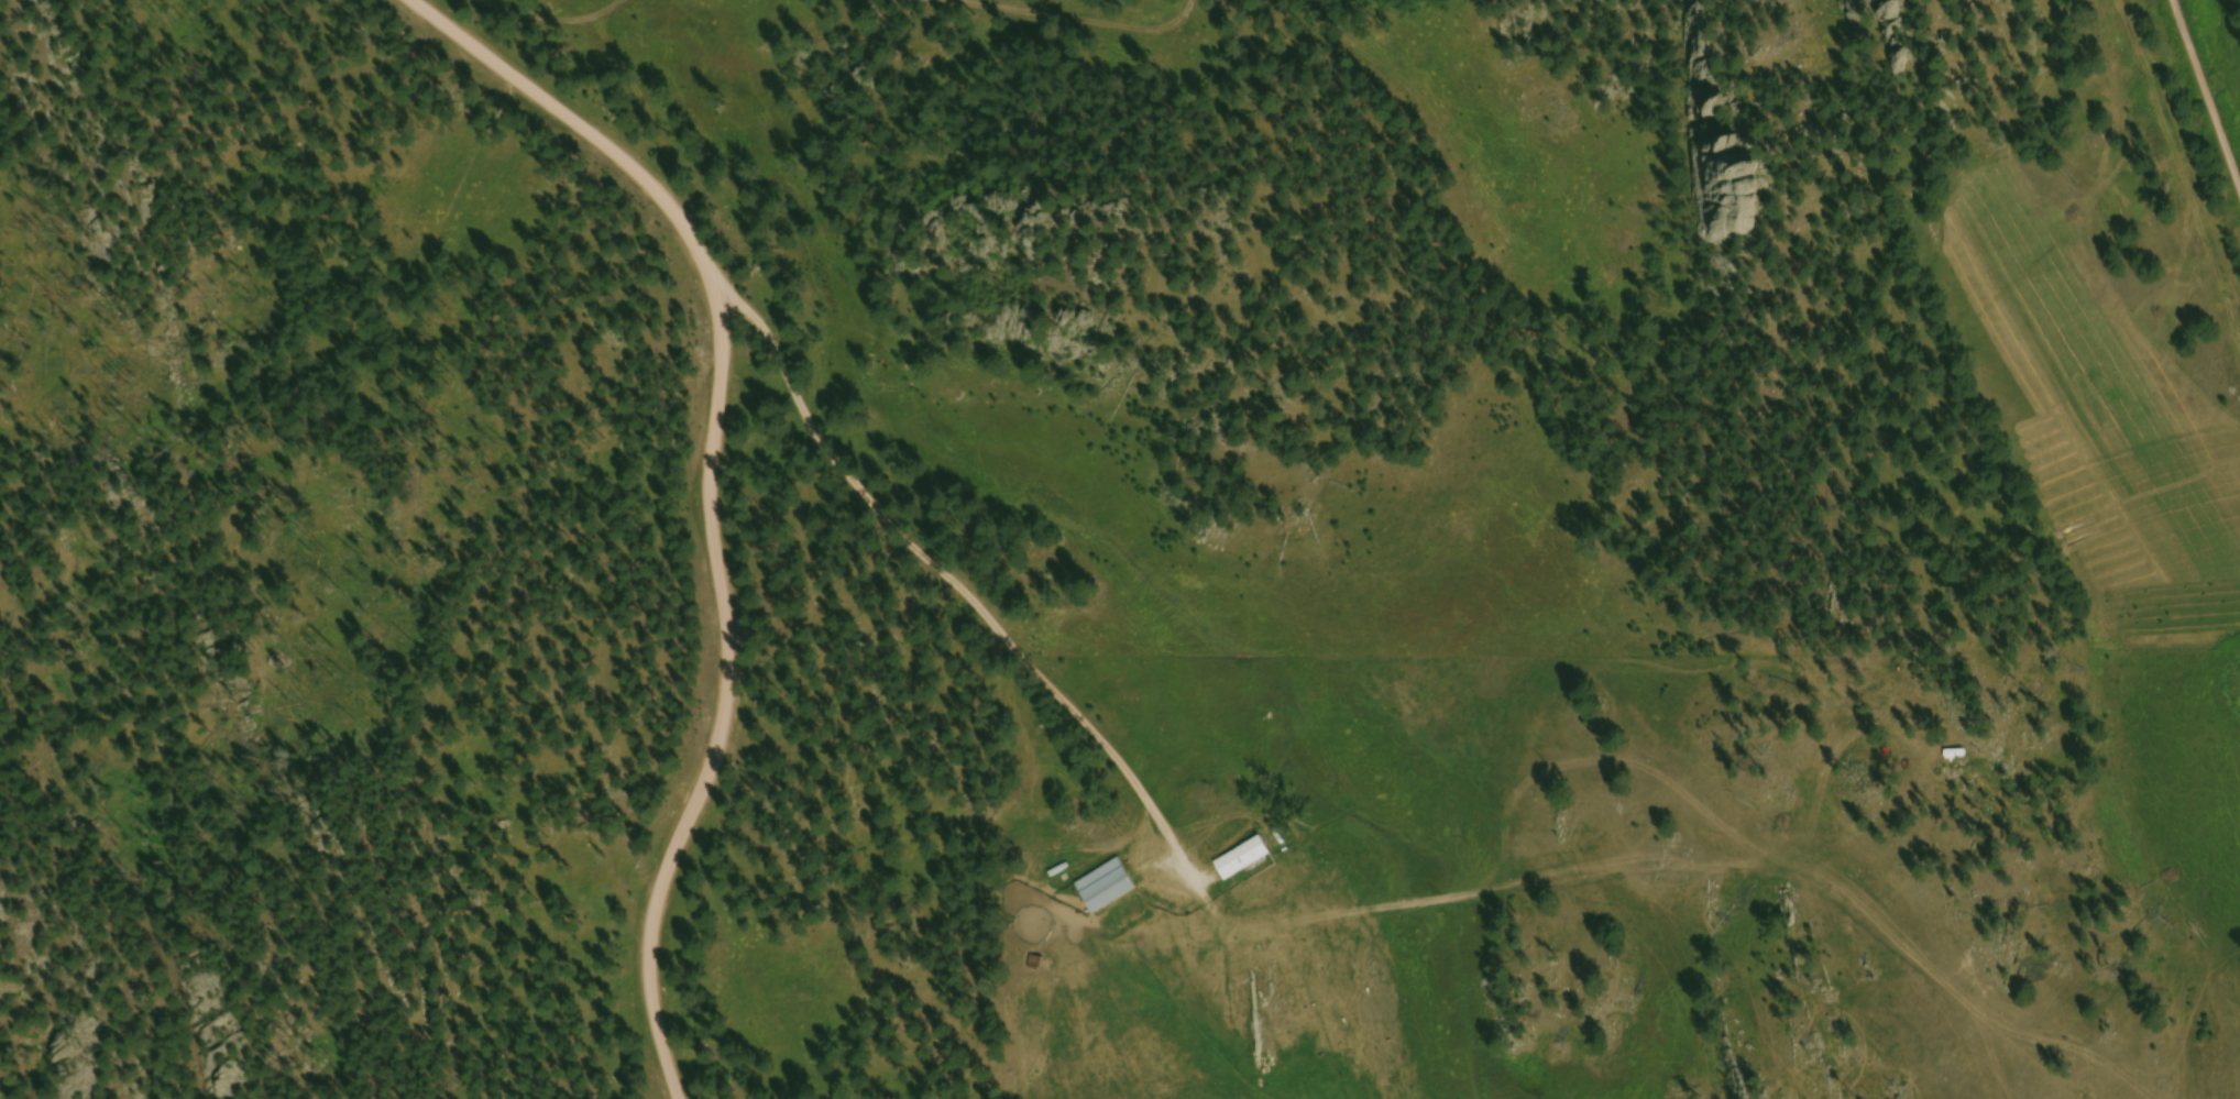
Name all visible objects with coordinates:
road: (2207, 90)
road: (706, 492)
road: (945, 580)
building: (1244, 861)
building: (1107, 888)

